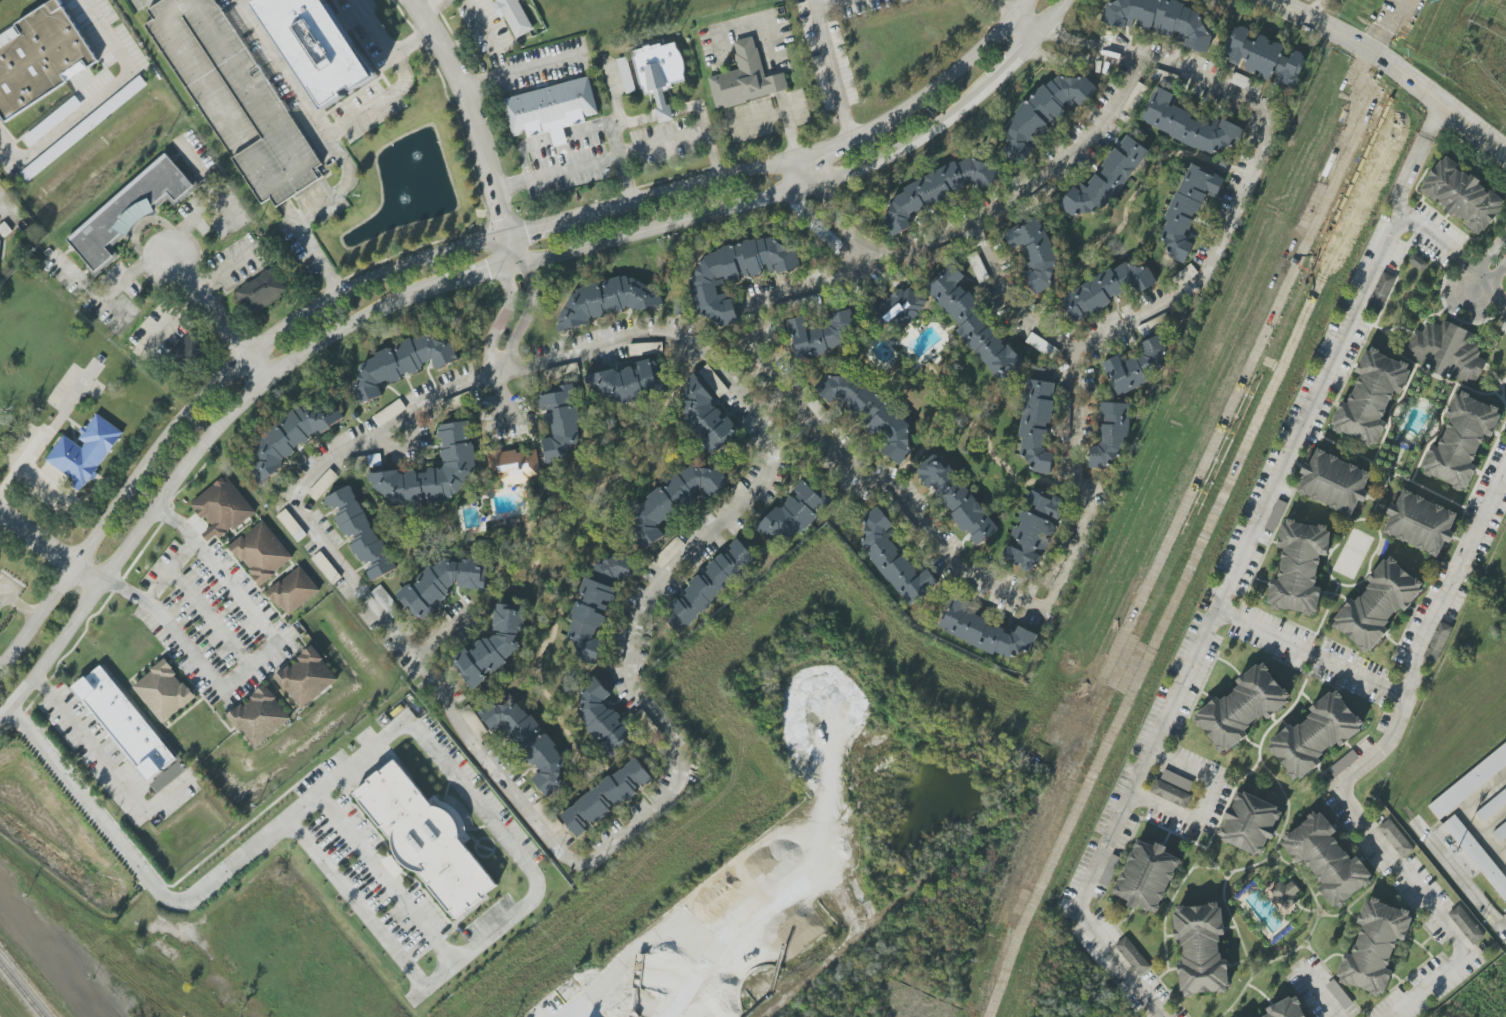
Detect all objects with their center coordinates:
road: (826, 3)
road: (433, 7)
road: (1006, 7)
road: (1316, 10)
building: (514, 16)
road: (753, 20)
building: (1161, 20)
road: (487, 35)
road: (1073, 40)
building: (318, 46)
building: (40, 57)
building: (1264, 57)
road: (1063, 59)
road: (1393, 66)
road: (832, 68)
road: (519, 70)
building: (659, 73)
road: (952, 73)
building: (626, 75)
building: (745, 78)
road: (775, 80)
building: (1240, 80)
road: (402, 81)
building: (235, 98)
road: (98, 100)
road: (780, 100)
road: (698, 107)
building: (551, 109)
road: (471, 113)
road: (664, 113)
road: (952, 113)
road: (770, 114)
building: (1046, 114)
building: (52, 121)
road: (633, 122)
building: (1190, 126)
building: (83, 128)
road: (587, 130)
road: (789, 134)
road: (611, 135)
road: (557, 138)
road: (831, 143)
road: (334, 148)
road: (523, 151)
road: (621, 155)
road: (804, 172)
road: (201, 176)
building: (1105, 179)
road: (687, 186)
building: (938, 188)
road: (1018, 189)
building: (1462, 195)
road: (5, 209)
building: (128, 209)
building: (1185, 211)
road: (199, 216)
road: (835, 216)
road: (541, 227)
road: (815, 229)
road: (1437, 239)
building: (0, 244)
road: (507, 250)
road: (1493, 250)
building: (1035, 253)
building: (1417, 262)
road: (1497, 267)
road: (1199, 269)
road: (1485, 271)
building: (737, 274)
building: (1107, 288)
road: (1497, 290)
building: (1381, 292)
building: (260, 293)
road: (108, 294)
building: (606, 301)
building: (901, 306)
road: (115, 311)
road: (526, 315)
road: (503, 317)
road: (216, 318)
building: (974, 325)
road: (328, 332)
building: (820, 332)
building: (1447, 351)
building: (187, 352)
building: (400, 364)
building: (1137, 365)
building: (627, 383)
road: (205, 393)
road: (504, 396)
road: (768, 396)
building: (1371, 396)
building: (870, 412)
building: (706, 414)
building: (561, 421)
building: (1038, 426)
building: (1109, 435)
road: (40, 439)
building: (1461, 440)
building: (290, 441)
building: (85, 451)
building: (514, 465)
building: (433, 470)
road: (43, 479)
building: (1334, 482)
building: (957, 497)
building: (674, 500)
building: (222, 508)
building: (794, 512)
building: (1275, 515)
building: (1420, 522)
building: (291, 525)
road: (923, 526)
building: (1033, 529)
building: (360, 532)
road: (49, 548)
building: (262, 552)
building: (669, 552)
building: (895, 559)
building: (1299, 567)
building: (326, 568)
road: (1233, 568)
road: (168, 569)
building: (445, 582)
building: (713, 582)
building: (293, 591)
building: (387, 602)
building: (1377, 604)
road: (18, 605)
building: (594, 610)
road: (209, 617)
building: (985, 630)
road: (440, 634)
building: (1438, 642)
building: (495, 643)
road: (1310, 656)
road: (258, 658)
building: (307, 678)
building: (164, 691)
building: (1242, 707)
building: (259, 716)
building: (605, 719)
building: (124, 722)
building: (1315, 735)
building: (528, 740)
road: (106, 763)
building: (1344, 763)
road: (1365, 768)
road: (339, 777)
building: (1468, 782)
building: (1173, 788)
building: (606, 797)
road: (1205, 803)
building: (1492, 806)
building: (1250, 823)
building: (1499, 830)
building: (425, 838)
building: (1396, 838)
road: (584, 855)
building: (1477, 855)
building: (1327, 859)
building: (1109, 870)
building: (1147, 876)
road: (387, 878)
road: (357, 903)
building: (1466, 924)
building: (1375, 946)
building: (1201, 949)
building: (1133, 956)
railway: (27, 983)
railway: (21, 990)
road: (1322, 992)
building: (1339, 994)
building: (1286, 1008)

